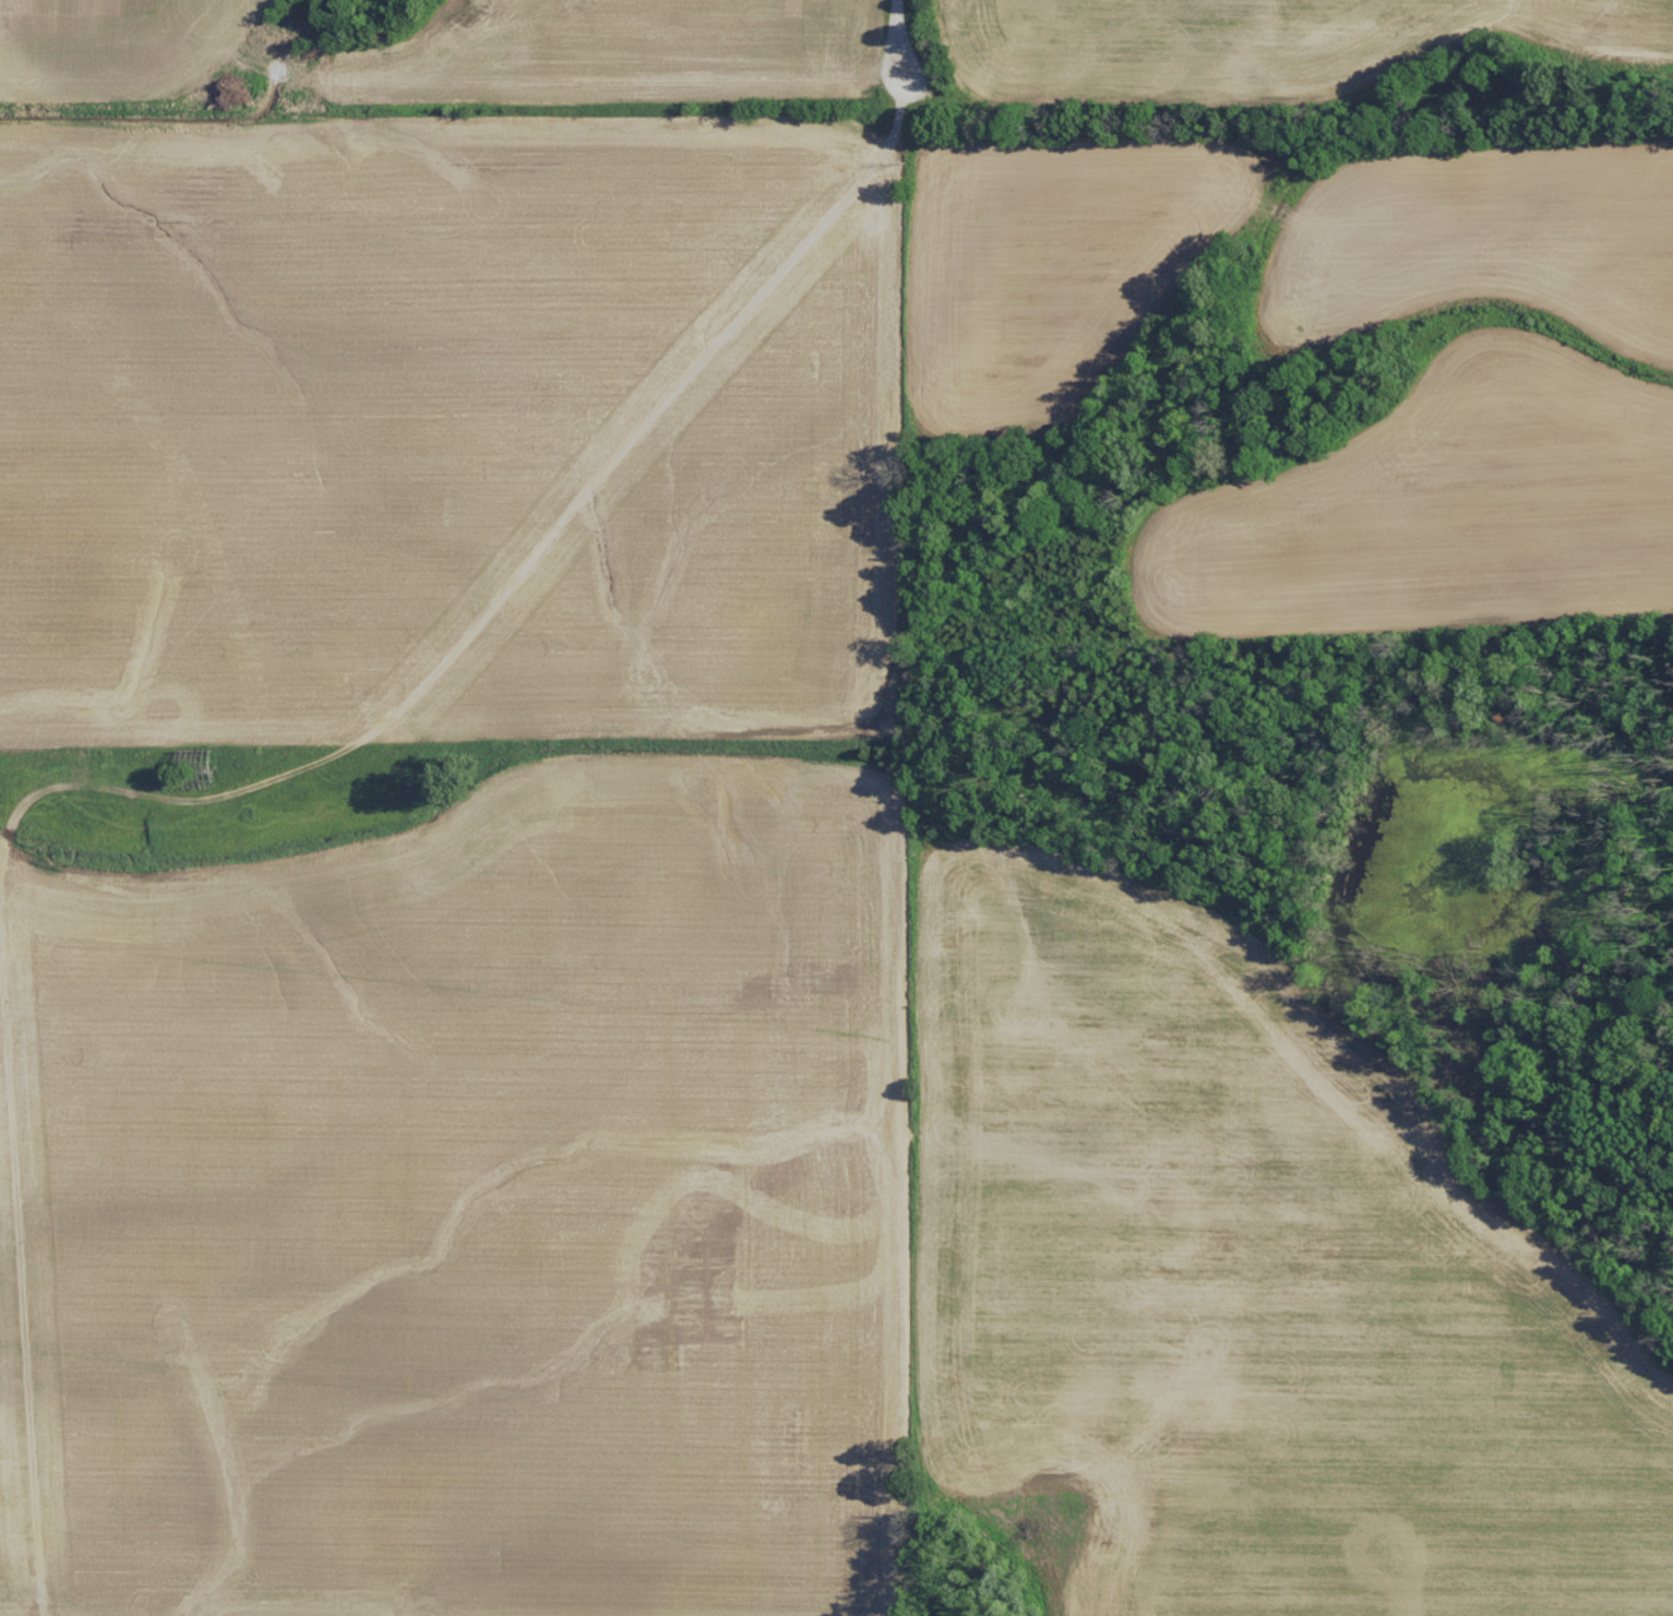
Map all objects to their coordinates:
road: (897, 60)

